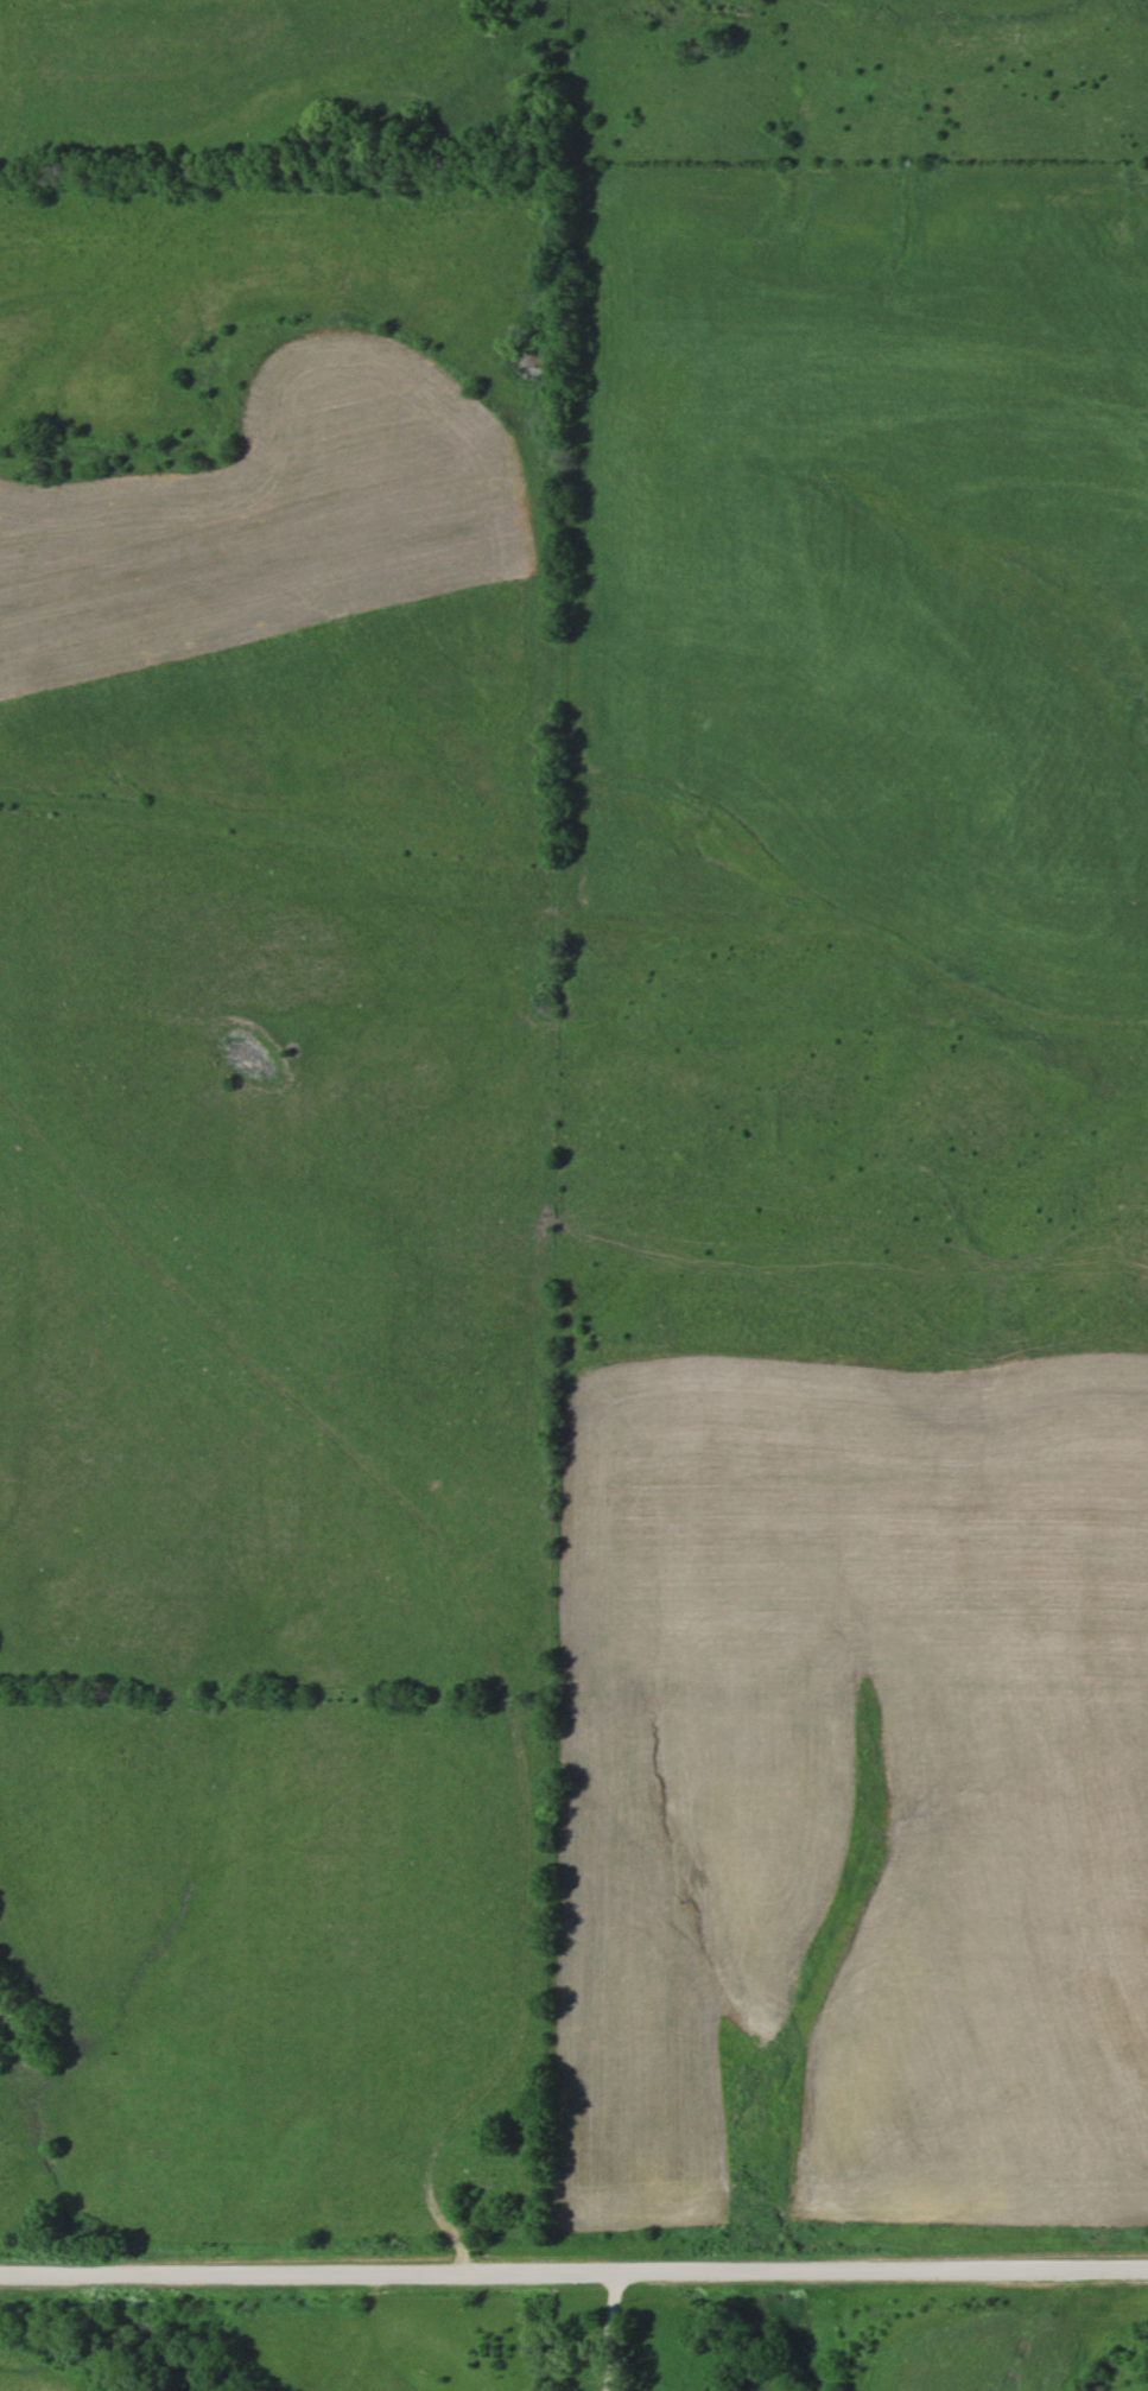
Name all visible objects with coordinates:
road: (573, 2272)
road: (610, 2330)

